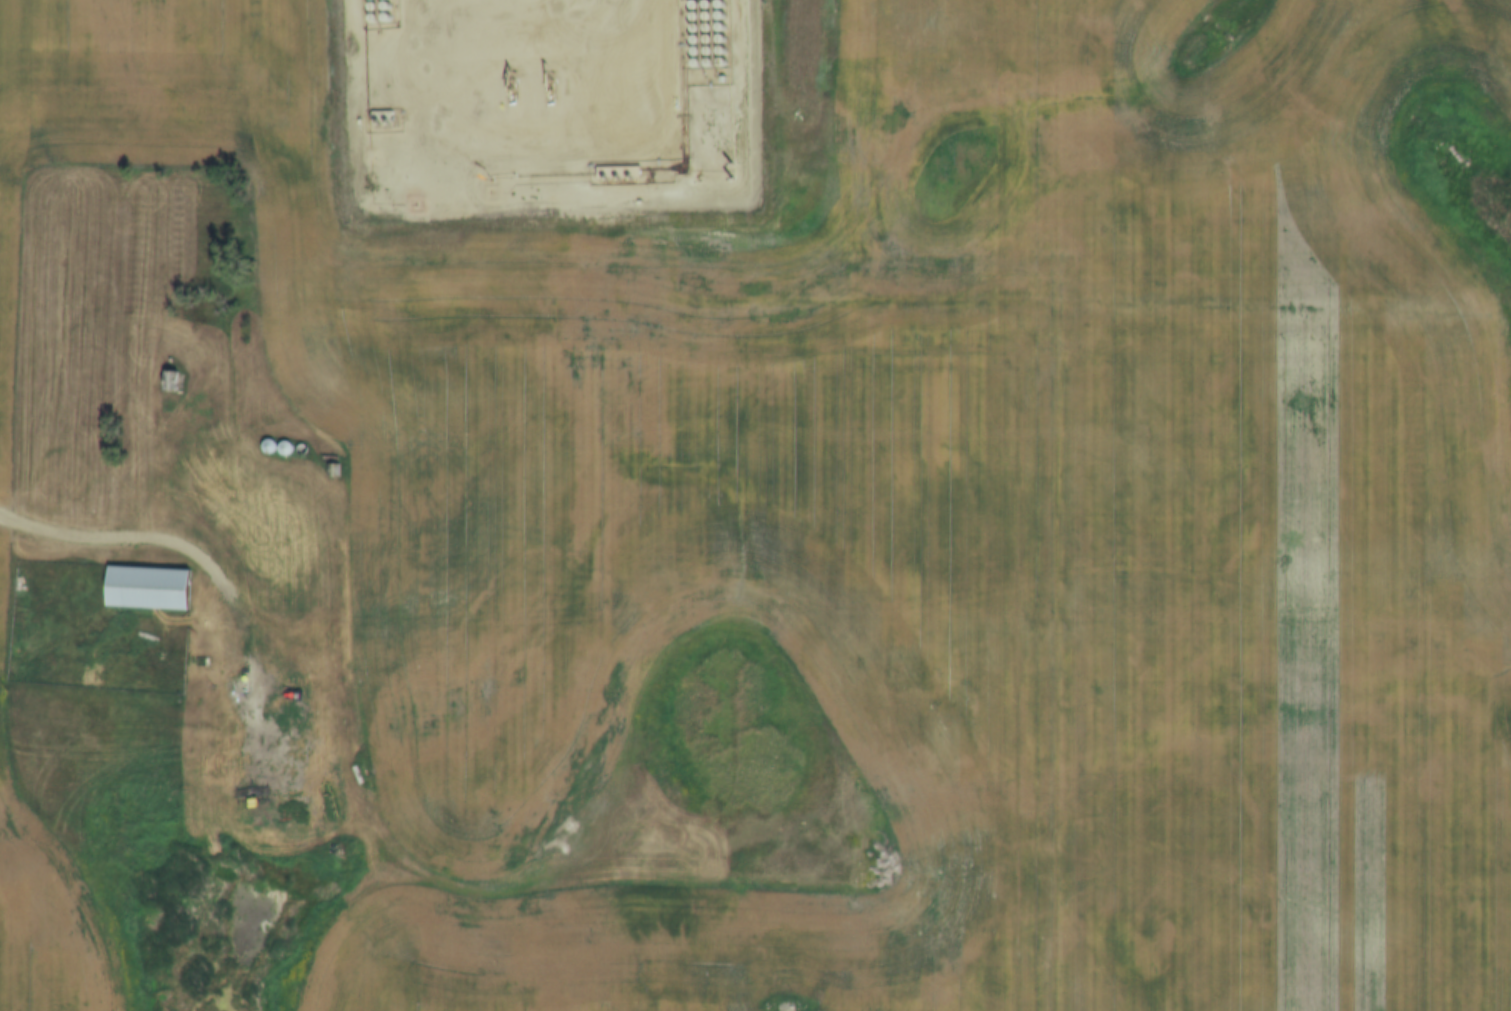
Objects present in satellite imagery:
road: (94, 538)
building: (143, 588)
road: (838, 616)

